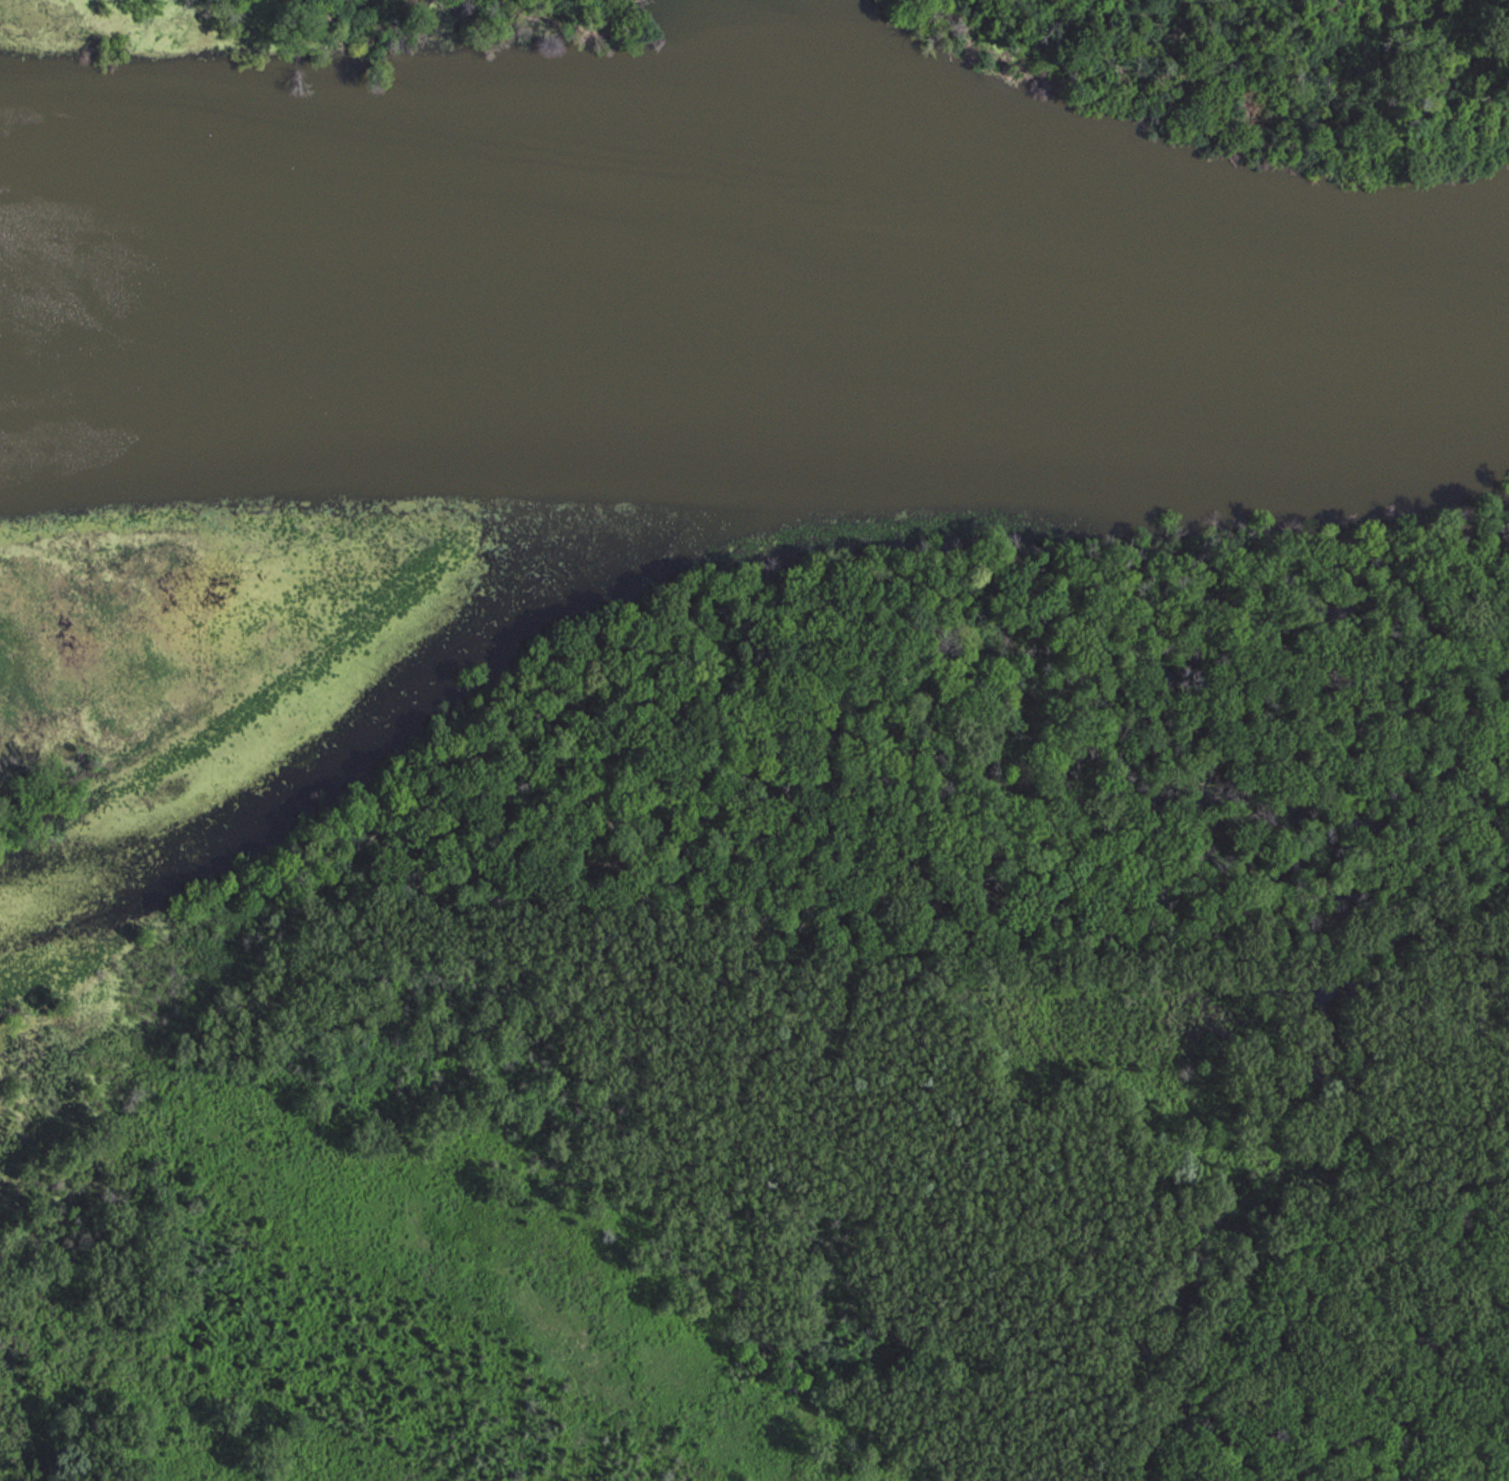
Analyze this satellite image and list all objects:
river: (754, 300)

